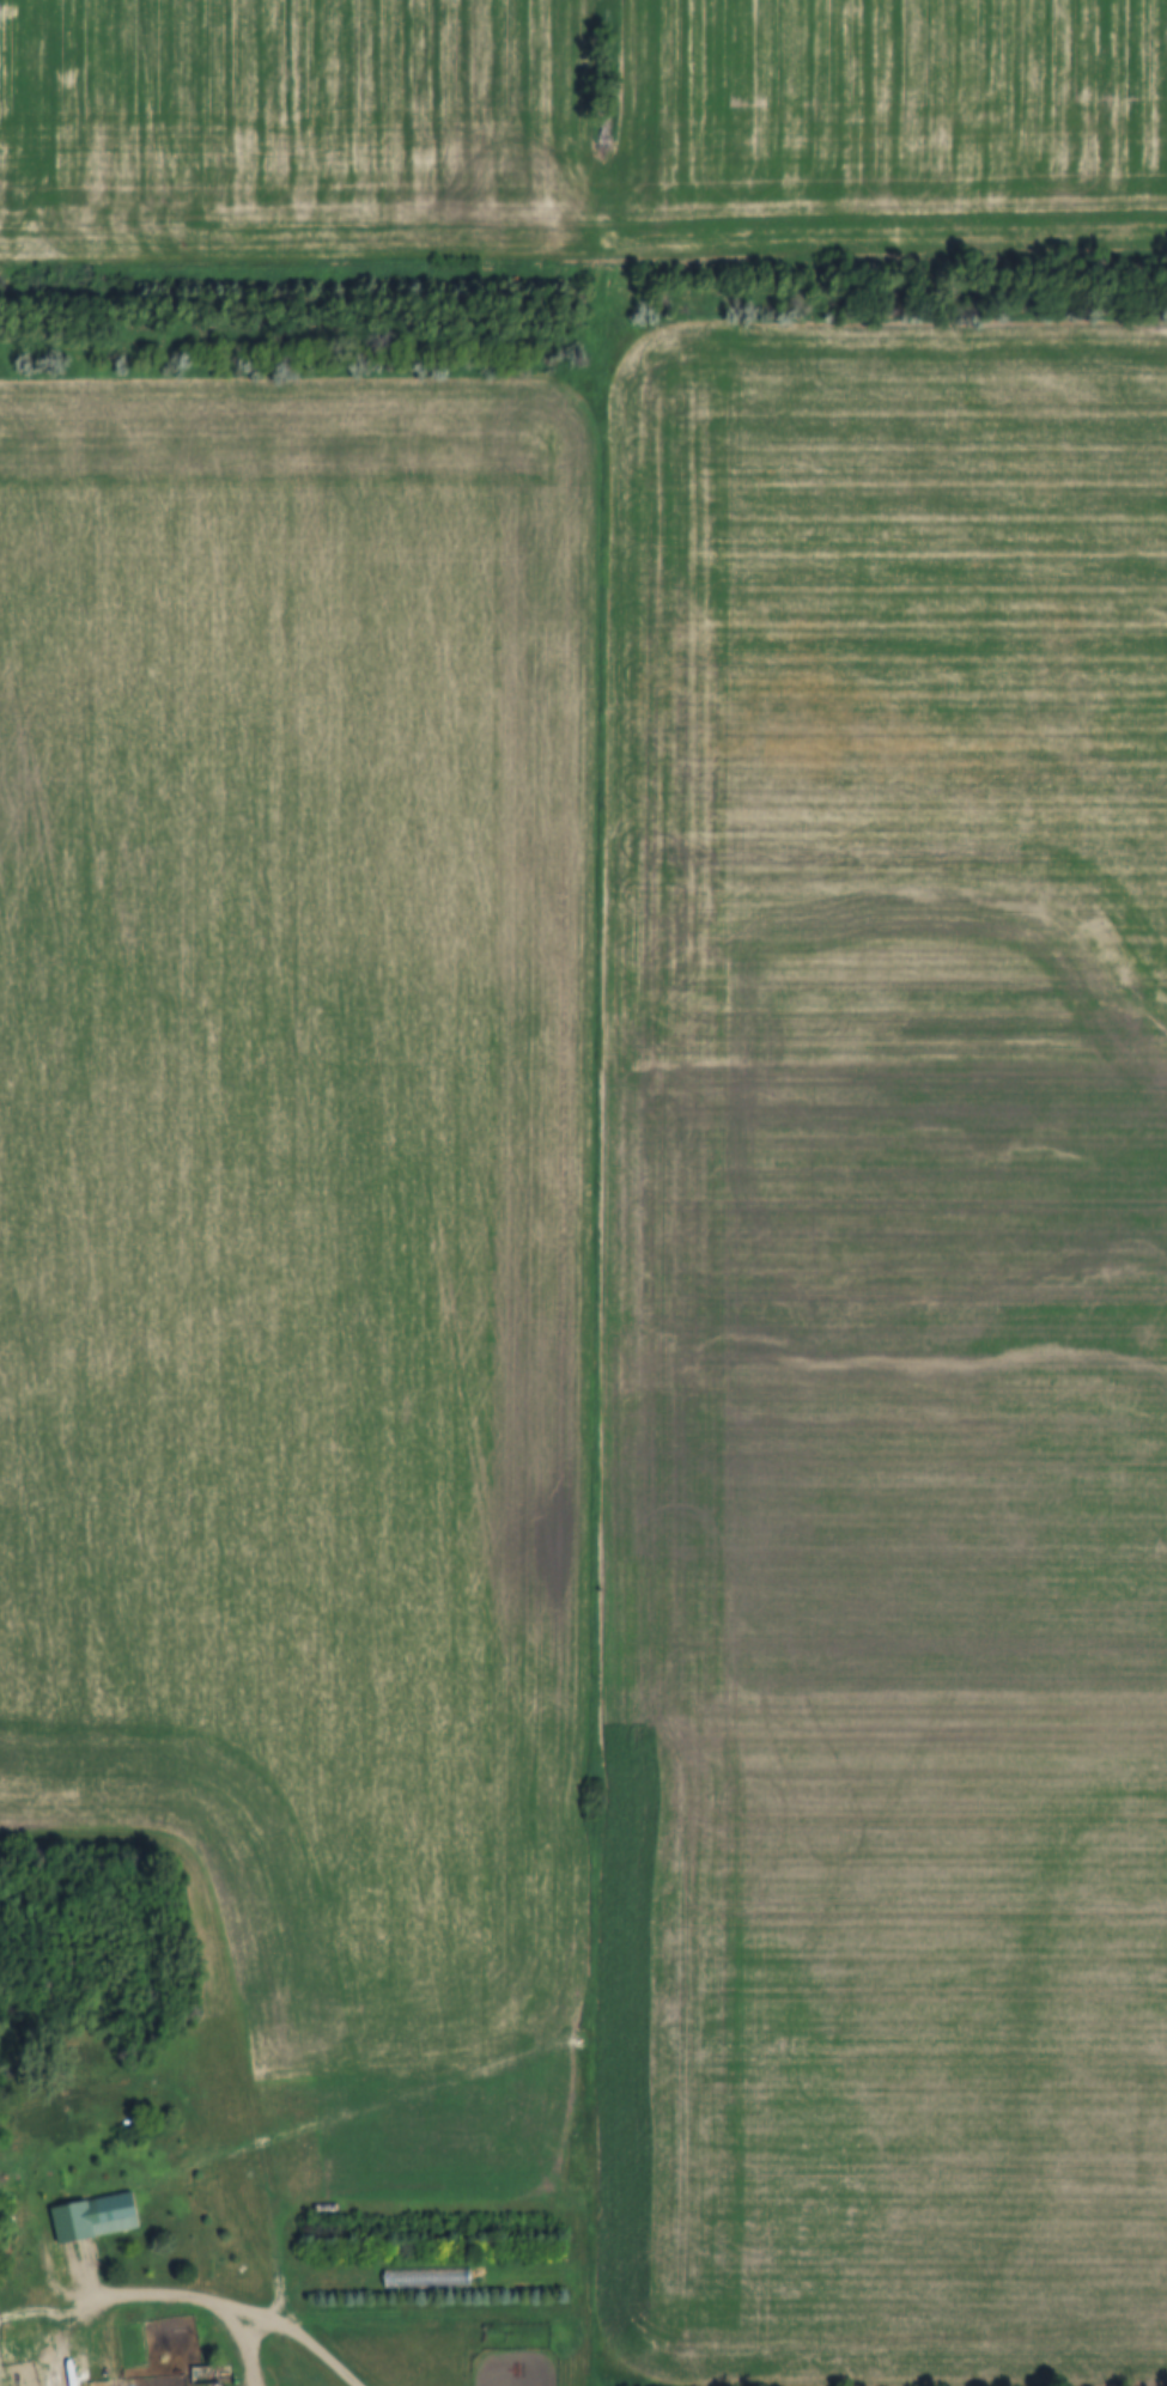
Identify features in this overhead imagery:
building: (121, 2210)
road: (221, 2300)
road: (28, 2309)
road: (259, 2351)
building: (35, 2363)

